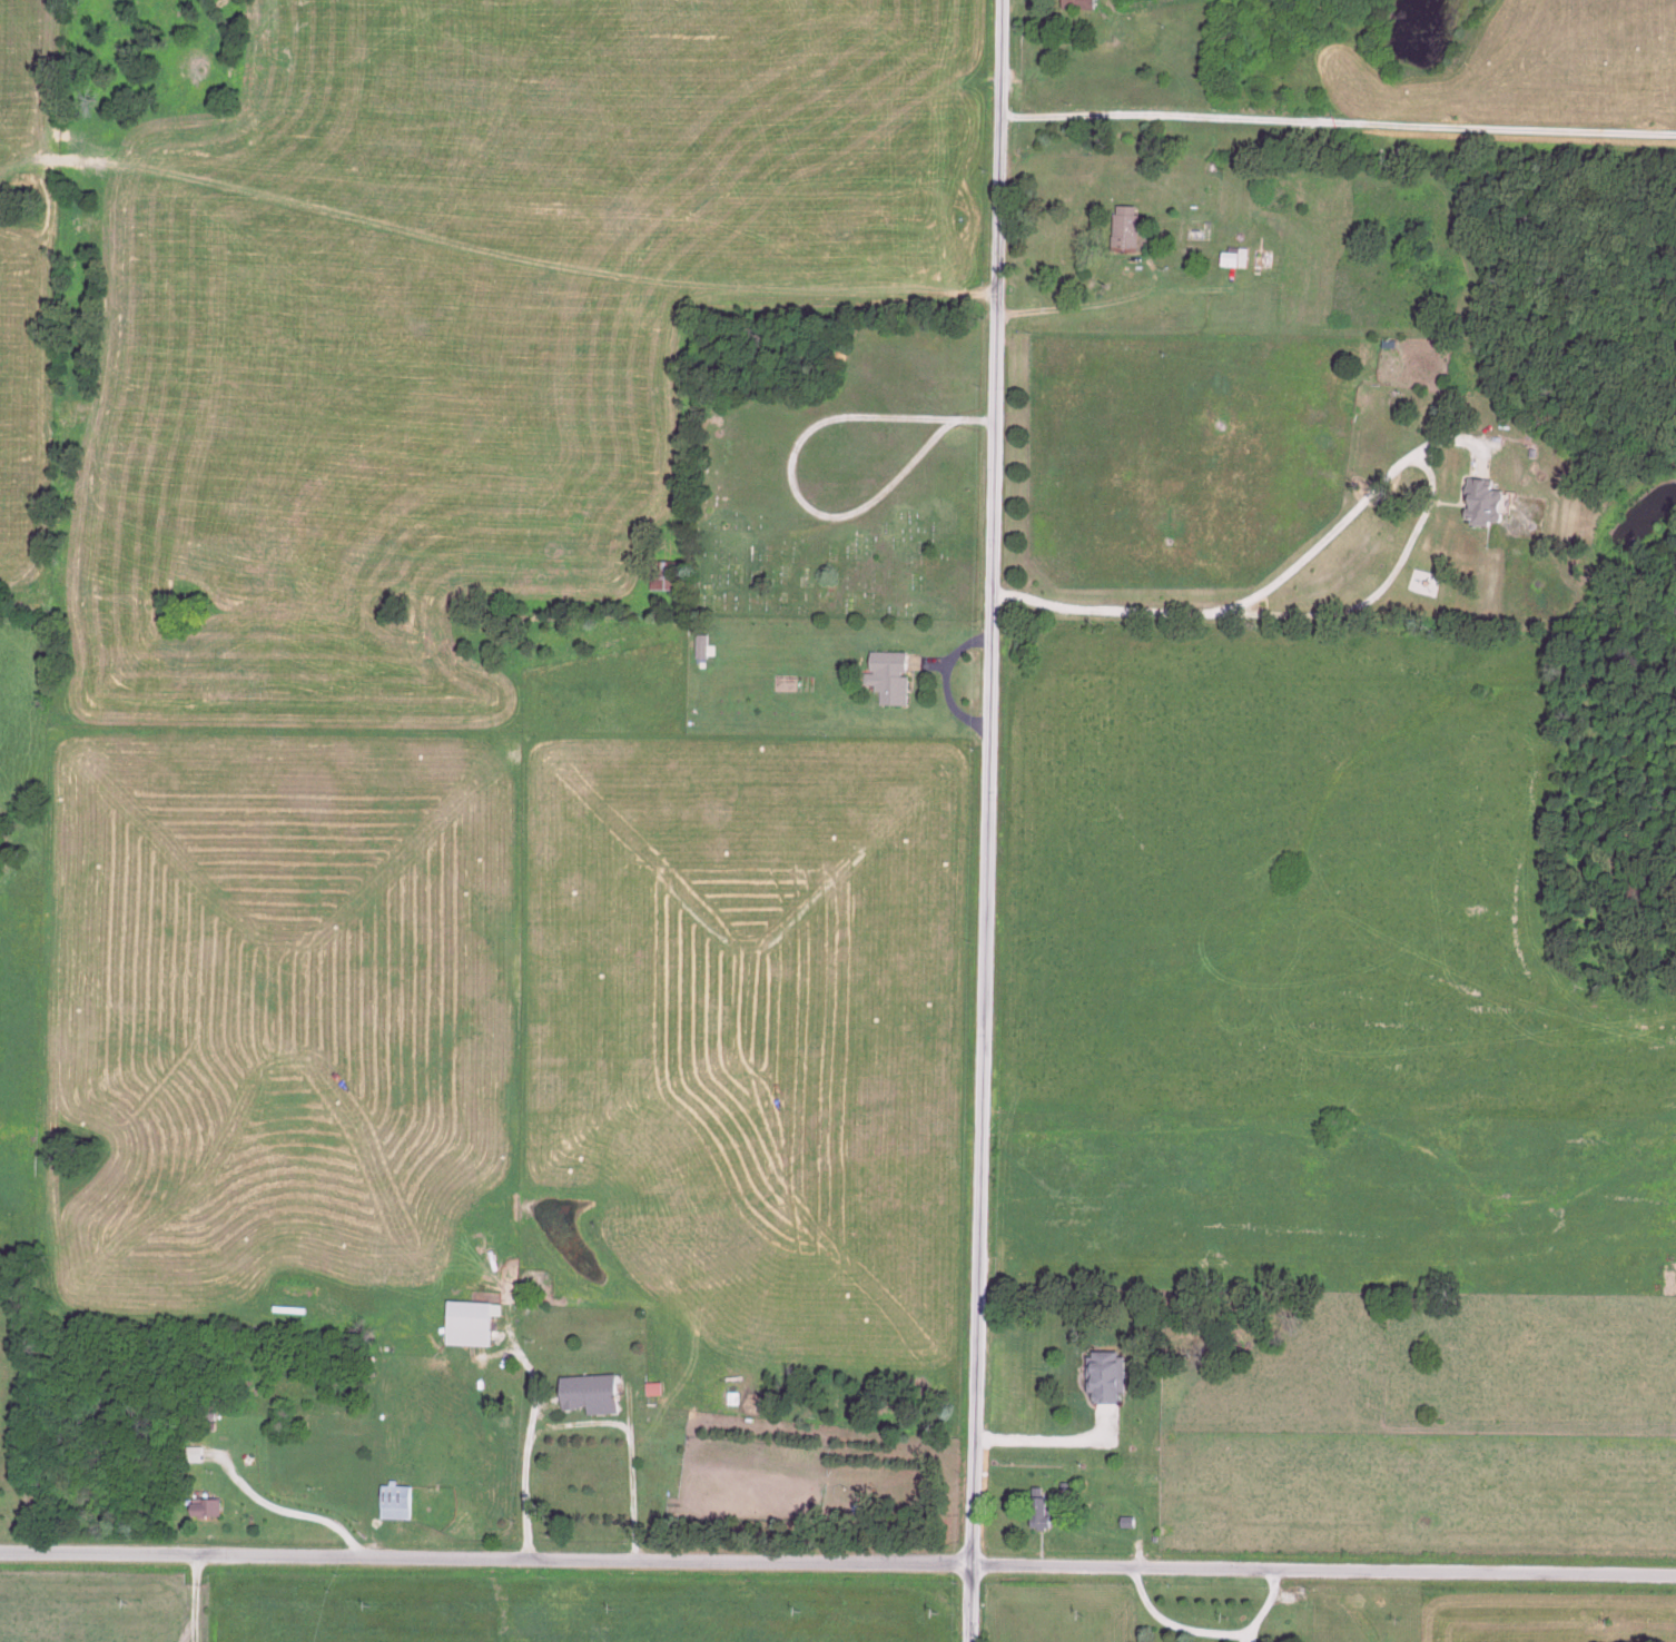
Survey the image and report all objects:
building: (1272, 3)
building: (1074, 4)
road: (1335, 123)
building: (1121, 229)
building: (1231, 257)
road: (1135, 295)
park: (840, 483)
building: (1479, 503)
building: (659, 576)
road: (1380, 591)
building: (885, 677)
road: (985, 820)
building: (472, 1329)
building: (1105, 1382)
building: (657, 1394)
building: (594, 1399)
road: (1052, 1444)
road: (632, 1445)
road: (523, 1455)
building: (1148, 1485)
building: (392, 1503)
building: (200, 1510)
road: (304, 1516)
building: (1043, 1516)
building: (1128, 1526)
road: (838, 1566)
road: (190, 1599)
road: (1207, 1635)

